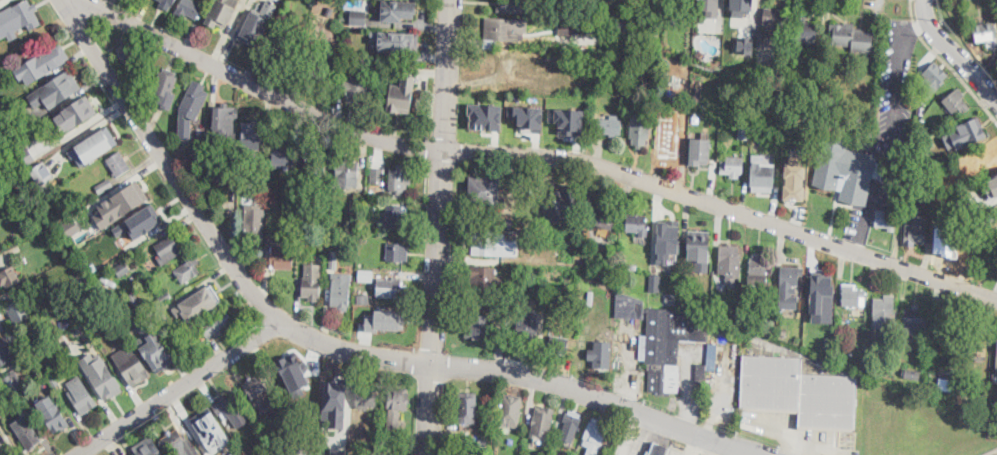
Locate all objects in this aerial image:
building: (166, 4)
building: (669, 4)
building: (742, 5)
building: (512, 6)
building: (709, 7)
building: (189, 9)
building: (397, 9)
building: (329, 10)
building: (221, 11)
building: (358, 16)
building: (621, 17)
building: (19, 18)
building: (256, 22)
building: (773, 26)
building: (572, 27)
building: (503, 31)
building: (805, 32)
building: (984, 33)
building: (854, 37)
building: (581, 38)
building: (404, 42)
building: (286, 43)
building: (744, 43)
building: (355, 46)
road: (954, 52)
building: (129, 55)
building: (800, 57)
building: (52, 58)
building: (318, 63)
road: (947, 63)
building: (392, 66)
building: (826, 67)
building: (345, 69)
building: (551, 70)
building: (683, 76)
building: (768, 76)
building: (933, 79)
building: (521, 81)
building: (146, 83)
building: (165, 83)
building: (650, 83)
building: (542, 87)
building: (56, 89)
building: (357, 90)
building: (15, 92)
building: (698, 93)
building: (401, 94)
building: (788, 94)
building: (194, 100)
building: (955, 101)
building: (83, 110)
building: (797, 114)
building: (485, 116)
building: (527, 116)
building: (37, 117)
building: (568, 119)
building: (744, 121)
building: (226, 122)
building: (608, 125)
building: (640, 128)
building: (200, 130)
building: (971, 131)
building: (745, 132)
building: (767, 132)
building: (917, 132)
building: (43, 134)
road: (892, 134)
building: (253, 135)
building: (103, 137)
building: (52, 143)
building: (672, 147)
building: (66, 149)
building: (699, 153)
building: (26, 156)
building: (285, 156)
road: (530, 157)
building: (989, 159)
building: (314, 162)
building: (118, 164)
road: (165, 164)
building: (732, 167)
building: (846, 170)
building: (347, 171)
building: (937, 172)
building: (41, 174)
building: (377, 175)
building: (762, 176)
building: (795, 179)
building: (400, 180)
building: (246, 181)
building: (991, 184)
building: (104, 186)
building: (290, 189)
building: (485, 190)
building: (131, 193)
building: (909, 194)
building: (21, 195)
building: (32, 200)
building: (562, 203)
building: (396, 216)
building: (603, 218)
building: (886, 219)
building: (987, 219)
building: (153, 220)
building: (254, 223)
building: (637, 224)
building: (540, 225)
building: (71, 227)
road: (438, 227)
building: (361, 229)
building: (915, 229)
building: (962, 235)
building: (667, 240)
building: (489, 243)
building: (699, 248)
building: (168, 250)
building: (81, 251)
building: (306, 252)
building: (397, 252)
building: (996, 255)
building: (282, 257)
building: (333, 260)
building: (729, 261)
building: (361, 265)
building: (151, 266)
building: (632, 267)
building: (187, 268)
building: (93, 269)
building: (123, 269)
building: (759, 269)
building: (113, 276)
building: (365, 276)
building: (11, 277)
building: (483, 277)
building: (612, 280)
building: (655, 283)
building: (789, 286)
building: (311, 288)
building: (391, 288)
building: (532, 289)
building: (341, 293)
building: (657, 295)
building: (853, 295)
building: (206, 296)
building: (821, 297)
building: (165, 298)
building: (668, 299)
building: (132, 300)
building: (363, 300)
building: (80, 305)
building: (685, 307)
building: (699, 308)
building: (172, 309)
building: (20, 310)
building: (884, 313)
building: (162, 316)
building: (389, 321)
building: (914, 321)
building: (216, 324)
building: (2, 326)
building: (480, 327)
building: (944, 328)
building: (527, 330)
building: (783, 330)
building: (185, 331)
building: (975, 337)
building: (662, 340)
building: (813, 342)
building: (827, 343)
building: (863, 343)
building: (559, 345)
building: (59, 351)
building: (158, 351)
building: (711, 352)
building: (849, 352)
building: (3, 353)
building: (601, 355)
building: (996, 359)
building: (881, 361)
building: (131, 364)
building: (102, 374)
road: (514, 374)
building: (913, 374)
building: (700, 378)
building: (55, 379)
building: (14, 383)
building: (302, 383)
road: (215, 384)
road: (179, 387)
road: (206, 390)
building: (81, 393)
building: (799, 393)
building: (264, 394)
building: (367, 397)
building: (397, 399)
building: (335, 403)
building: (236, 409)
building: (510, 409)
building: (468, 410)
building: (52, 412)
building: (290, 412)
building: (394, 415)
building: (542, 422)
building: (485, 423)
building: (571, 427)
building: (215, 429)
building: (363, 431)
building: (26, 433)
building: (594, 435)
road: (628, 435)
road: (9, 440)
building: (180, 441)
building: (299, 448)
building: (657, 448)
road: (3, 449)
building: (146, 449)
building: (338, 451)
building: (239, 453)
building: (478, 453)
building: (163, 454)

